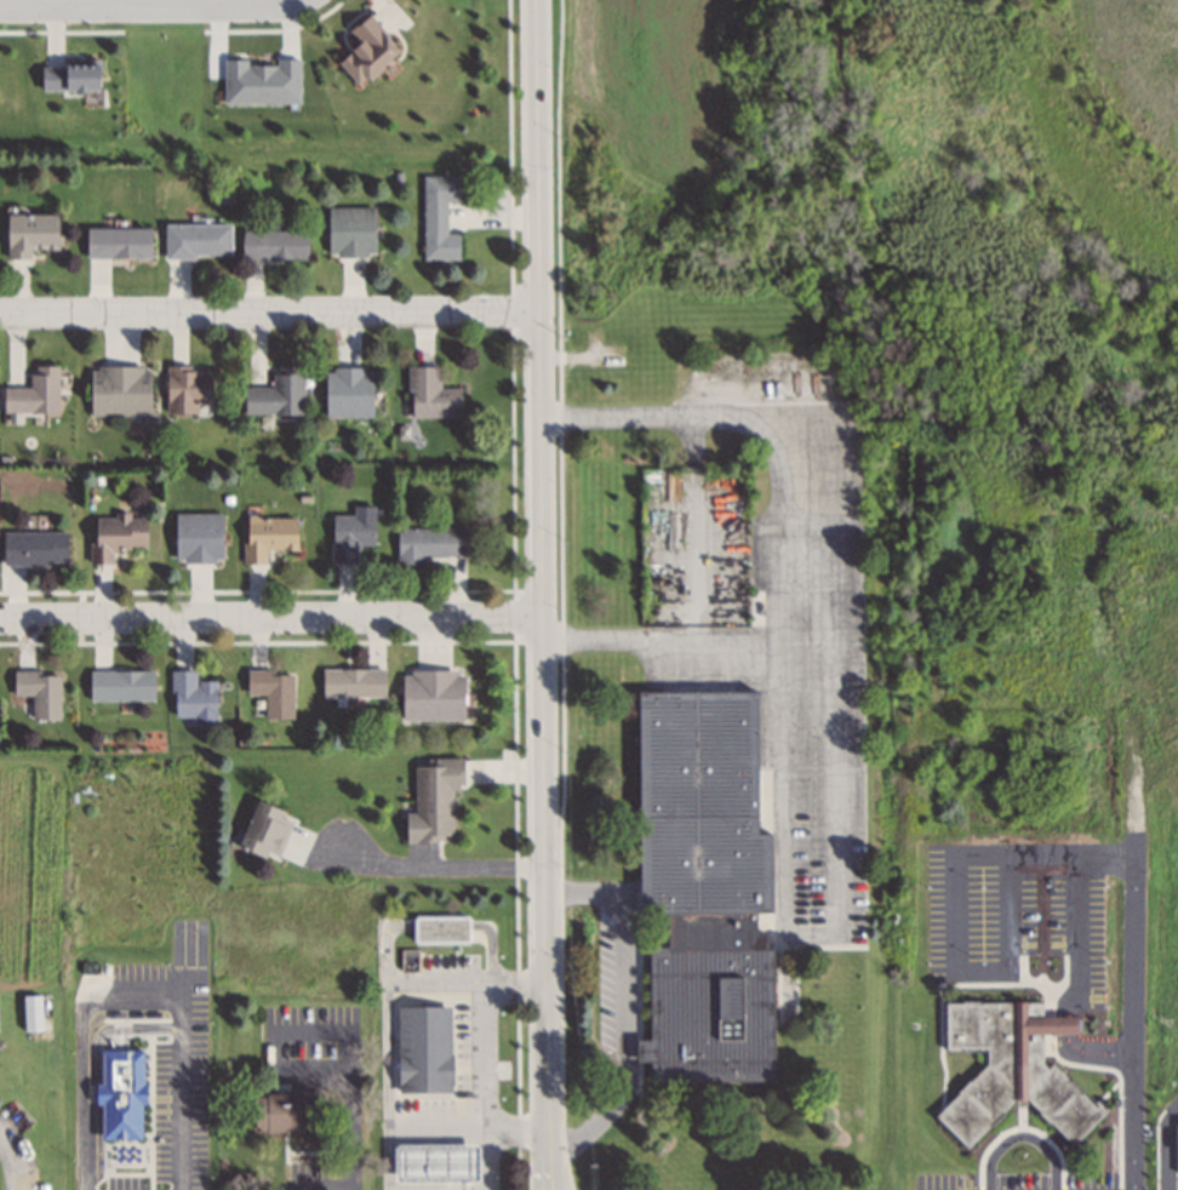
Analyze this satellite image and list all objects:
road: (147, 5)
building: (366, 50)
building: (69, 76)
building: (439, 218)
building: (351, 231)
building: (30, 233)
building: (196, 240)
building: (118, 242)
building: (274, 244)
road: (269, 311)
building: (187, 388)
building: (119, 390)
building: (348, 391)
building: (34, 393)
building: (276, 393)
building: (431, 394)
road: (830, 526)
building: (351, 533)
building: (115, 534)
building: (268, 536)
building: (199, 537)
building: (429, 543)
building: (35, 547)
road: (543, 594)
road: (271, 617)
road: (688, 640)
building: (353, 681)
building: (121, 685)
building: (273, 690)
building: (39, 691)
building: (431, 693)
building: (191, 694)
building: (433, 799)
building: (265, 830)
road: (428, 864)
building: (703, 888)
building: (440, 928)
road: (1079, 936)
road: (1133, 960)
road: (959, 971)
road: (131, 989)
road: (623, 1003)
road: (1065, 1022)
road: (270, 1030)
road: (488, 1048)
building: (423, 1049)
road: (1092, 1052)
building: (1010, 1069)
building: (118, 1092)
building: (282, 1112)
road: (350, 1128)
road: (491, 1155)
building: (435, 1162)

